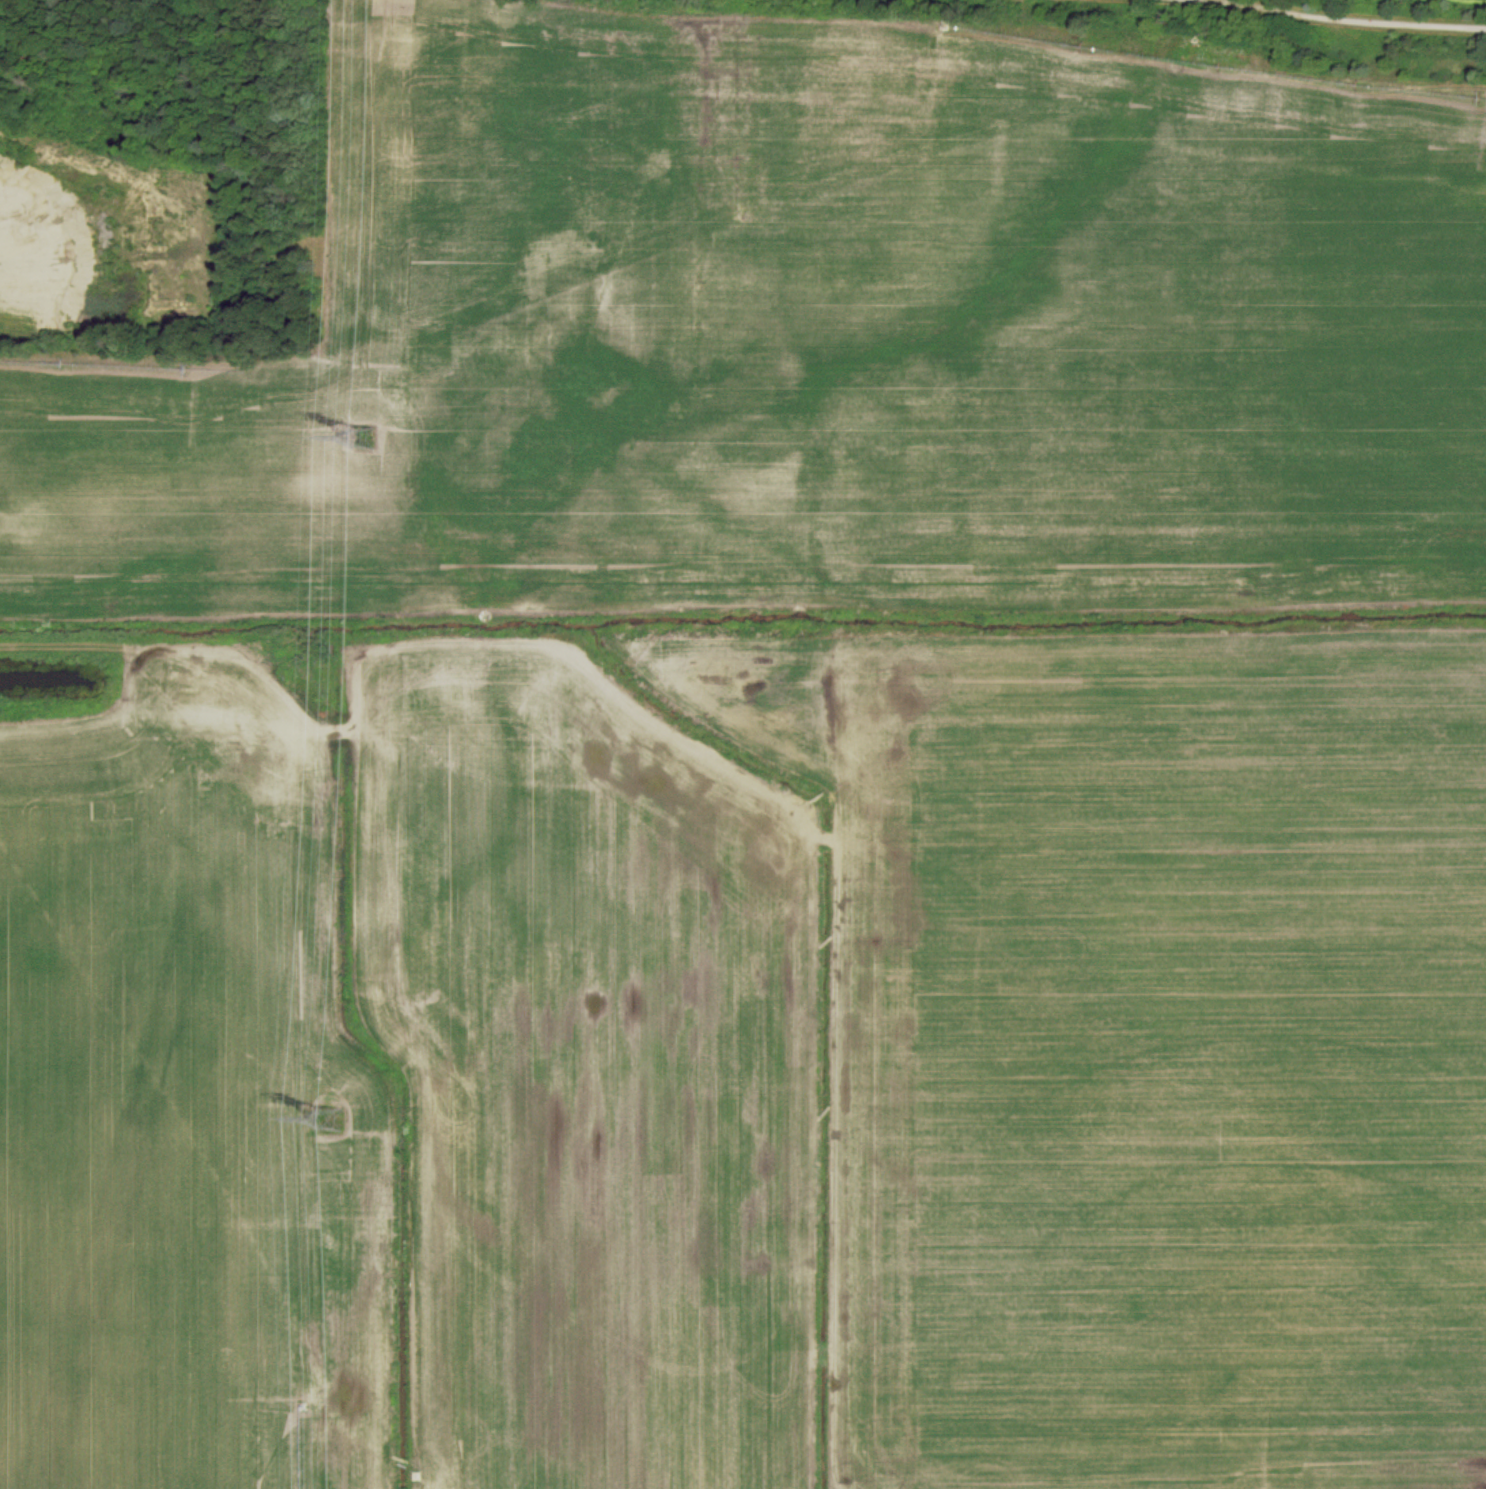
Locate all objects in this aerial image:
road: (1349, 19)
power tower: (364, 436)
power tower: (334, 1118)

